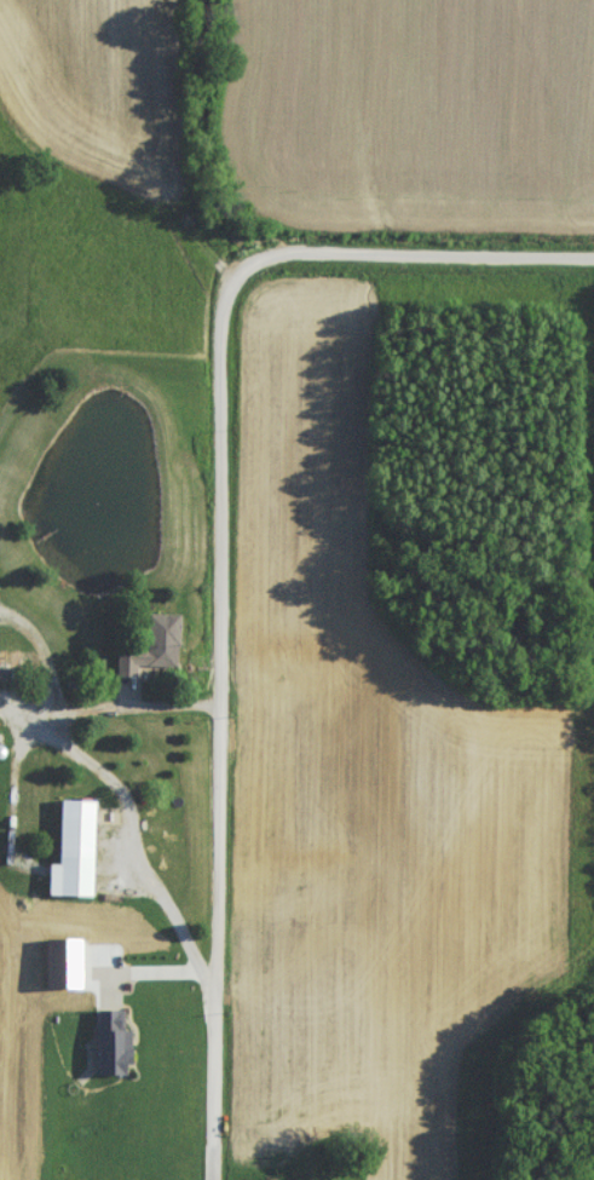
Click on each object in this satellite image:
road: (404, 247)
building: (125, 669)
road: (52, 670)
road: (142, 702)
road: (219, 727)
road: (31, 735)
building: (75, 854)
road: (144, 868)
road: (152, 968)

